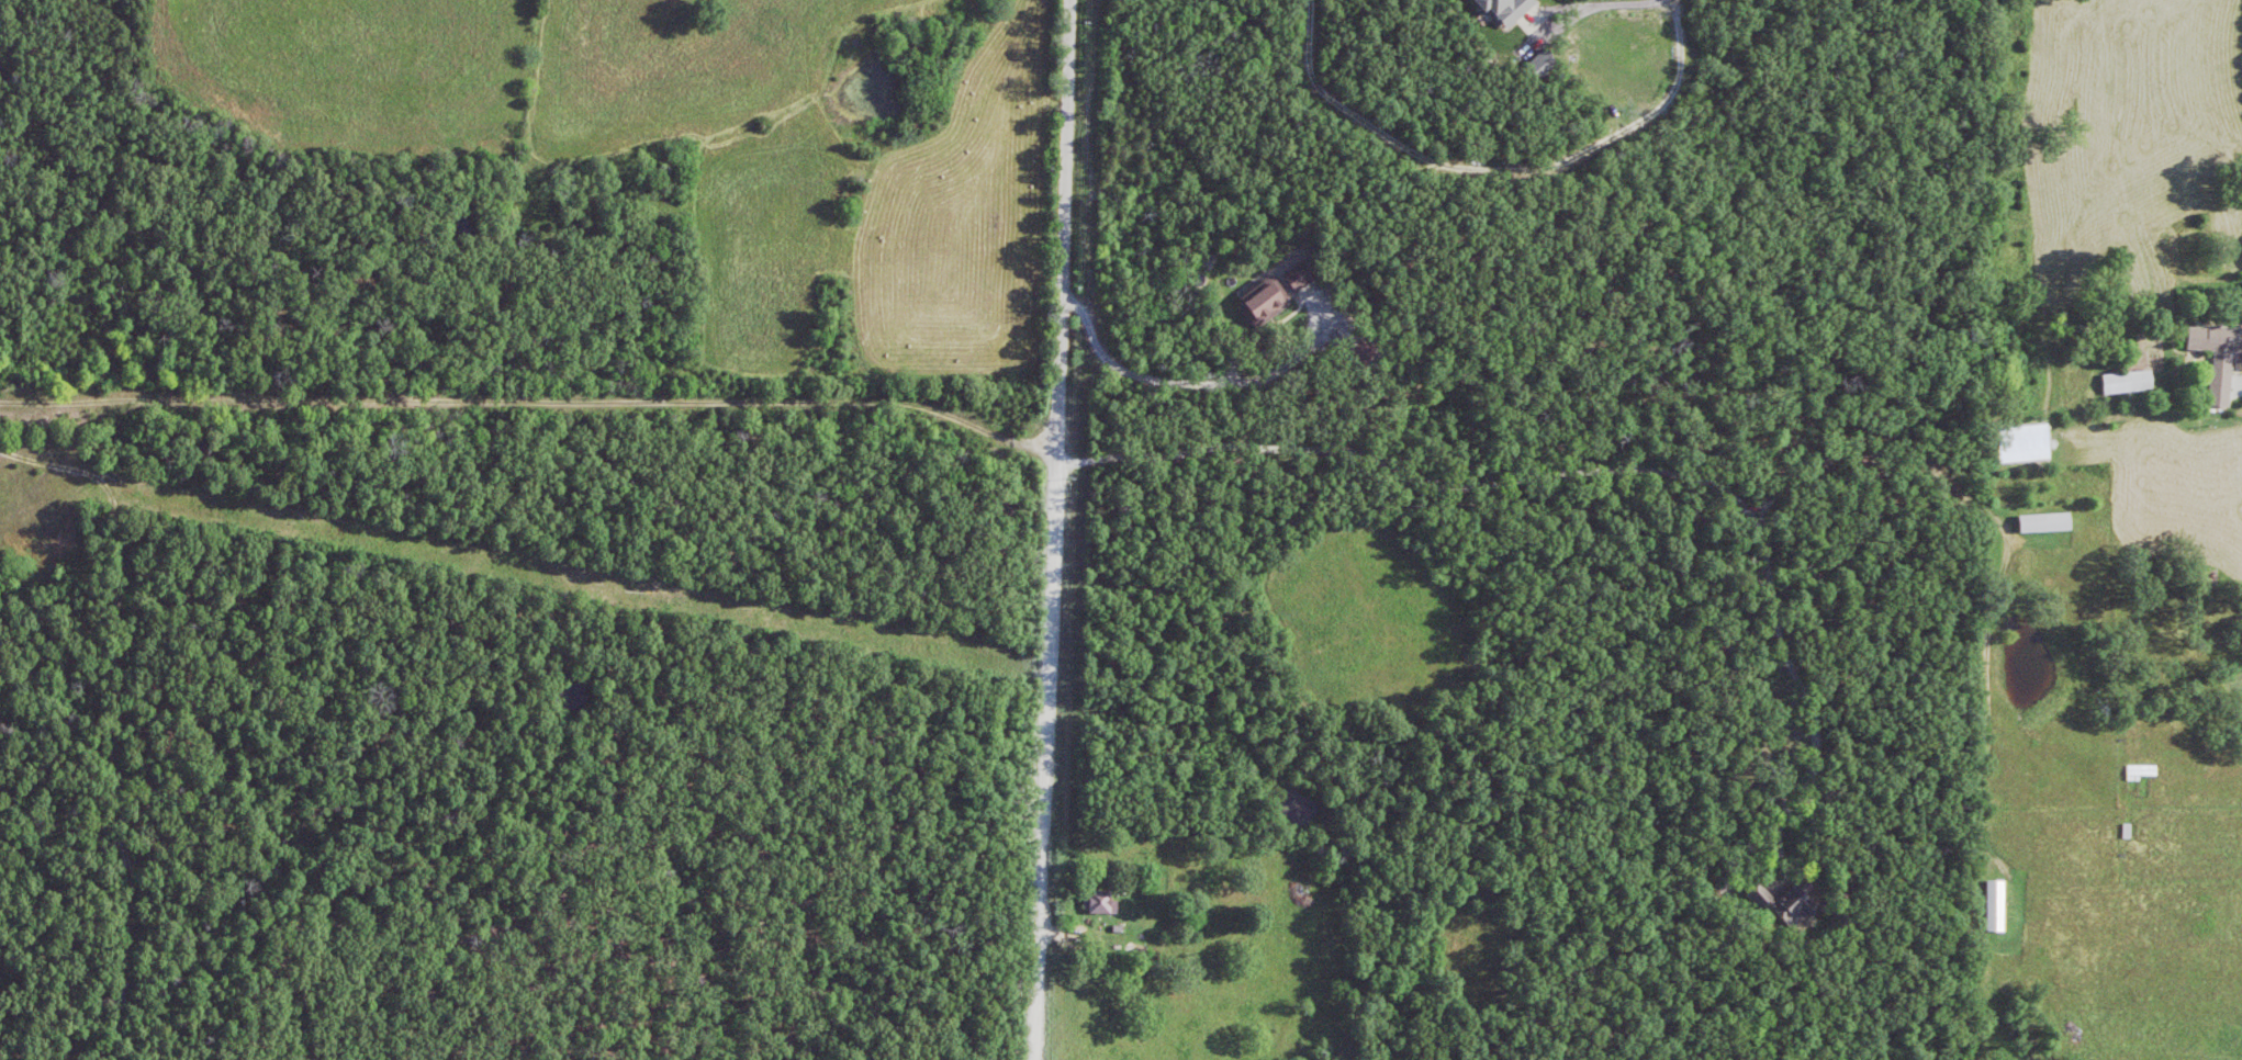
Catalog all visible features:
building: (1506, 11)
building: (1267, 307)
building: (2218, 362)
road: (529, 385)
building: (2127, 386)
building: (2044, 528)
road: (1052, 530)
building: (2140, 776)
building: (1099, 906)
building: (1995, 910)
building: (1796, 911)
road: (1206, 922)

